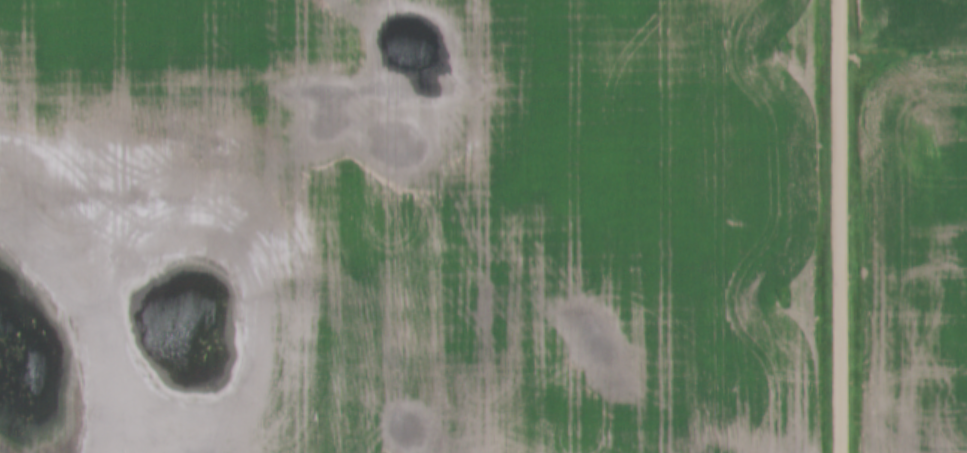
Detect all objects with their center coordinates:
road: (838, 226)

